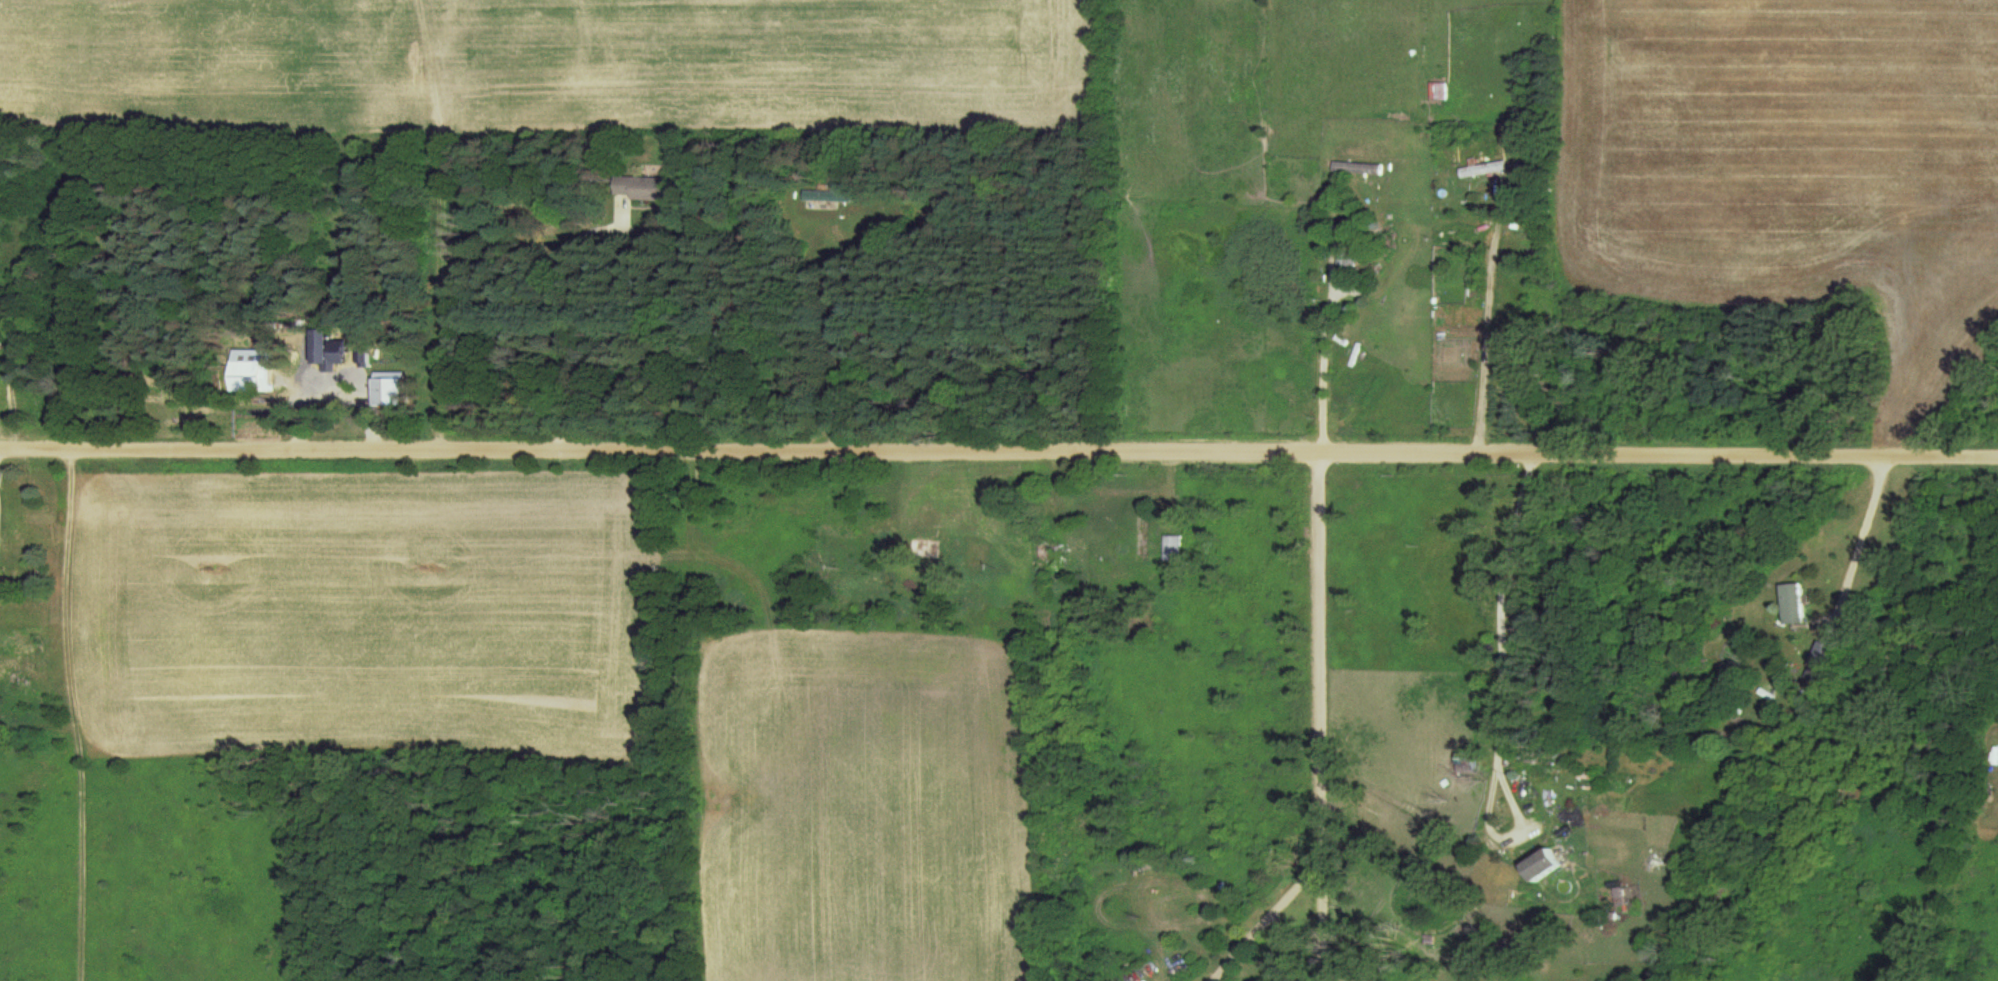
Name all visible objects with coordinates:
building: (1484, 168)
building: (645, 186)
building: (824, 199)
building: (1349, 217)
building: (1347, 257)
building: (1506, 348)
road: (776, 446)
road: (1775, 450)
building: (1171, 548)
building: (1047, 558)
building: (1796, 603)
building: (25, 650)
building: (1825, 653)
road: (1319, 713)
building: (1524, 781)
building: (1548, 864)
building: (1620, 897)
road: (1261, 917)

